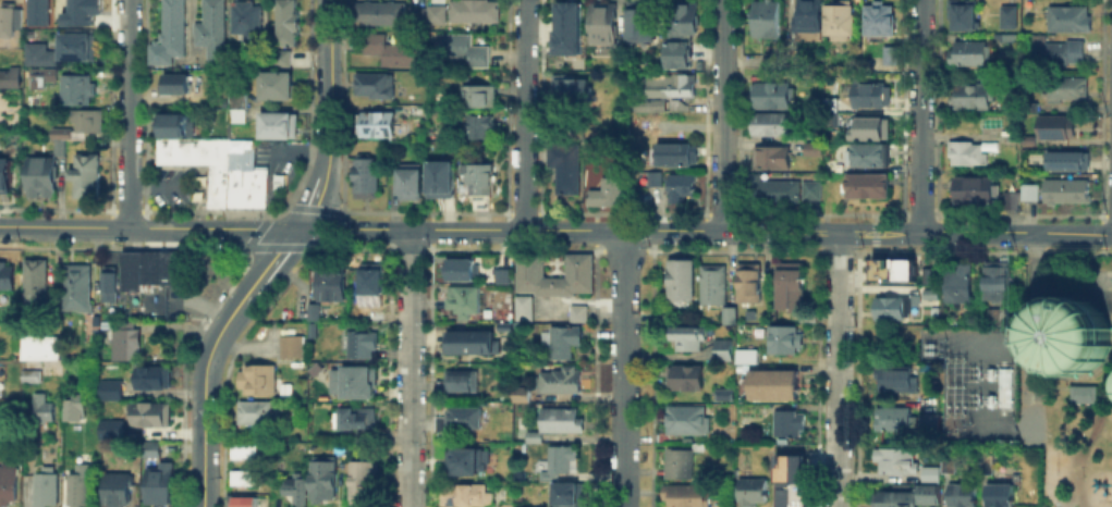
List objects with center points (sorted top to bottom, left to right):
road: (326, 5)
road: (332, 5)
building: (284, 10)
building: (473, 10)
building: (30, 11)
building: (80, 12)
building: (378, 12)
building: (433, 13)
building: (414, 14)
building: (810, 15)
building: (964, 16)
building: (8, 17)
building: (766, 18)
building: (1010, 18)
building: (839, 20)
building: (1070, 20)
building: (248, 22)
building: (643, 22)
building: (880, 22)
building: (606, 25)
building: (570, 30)
building: (213, 32)
building: (283, 32)
building: (683, 34)
building: (171, 35)
building: (1012, 39)
building: (73, 44)
building: (390, 50)
building: (462, 50)
building: (37, 53)
building: (889, 53)
building: (1058, 53)
building: (280, 55)
building: (972, 55)
building: (8, 77)
building: (41, 77)
building: (672, 83)
building: (273, 84)
building: (178, 85)
building: (376, 86)
building: (1070, 90)
building: (78, 91)
road: (329, 94)
building: (573, 94)
building: (479, 97)
building: (770, 97)
building: (872, 97)
building: (974, 99)
building: (830, 107)
building: (650, 108)
building: (1032, 108)
road: (127, 113)
building: (234, 113)
road: (524, 114)
road: (723, 115)
road: (920, 116)
building: (89, 122)
building: (171, 123)
building: (276, 123)
building: (375, 126)
building: (480, 126)
building: (773, 126)
building: (872, 128)
building: (1054, 128)
building: (59, 132)
building: (577, 133)
building: (1009, 138)
building: (1031, 141)
building: (57, 146)
building: (810, 147)
building: (162, 149)
building: (196, 149)
building: (180, 150)
building: (215, 152)
road: (294, 153)
building: (676, 156)
building: (870, 156)
building: (969, 156)
building: (772, 159)
building: (1067, 163)
building: (567, 168)
building: (4, 170)
building: (232, 171)
building: (39, 175)
building: (87, 175)
building: (249, 177)
building: (439, 177)
building: (481, 177)
building: (367, 178)
road: (155, 183)
building: (412, 184)
building: (215, 186)
building: (808, 188)
building: (870, 188)
building: (683, 189)
building: (768, 189)
building: (977, 191)
building: (1031, 193)
building: (1067, 193)
building: (610, 195)
building: (1013, 201)
road: (311, 203)
traffic signals: (295, 227)
road: (310, 227)
road: (672, 230)
road: (780, 232)
road: (975, 233)
road: (268, 263)
building: (158, 268)
building: (581, 268)
building: (130, 269)
building: (892, 269)
building: (462, 271)
building: (927, 274)
building: (5, 275)
building: (505, 277)
building: (38, 282)
building: (107, 282)
building: (328, 282)
building: (683, 282)
building: (998, 282)
building: (960, 283)
building: (750, 284)
building: (714, 285)
building: (791, 286)
building: (78, 288)
building: (374, 293)
building: (928, 293)
road: (142, 300)
building: (464, 302)
road: (196, 304)
building: (887, 308)
building: (526, 309)
building: (313, 311)
building: (578, 314)
building: (731, 317)
building: (663, 320)
building: (999, 320)
road: (1035, 332)
building: (1076, 336)
building: (562, 337)
building: (689, 341)
building: (785, 341)
building: (472, 343)
water tower: (1072, 344)
building: (126, 345)
building: (289, 345)
building: (363, 346)
building: (41, 348)
building: (724, 351)
building: (562, 354)
building: (748, 359)
building: (10, 363)
road: (410, 368)
road: (623, 368)
road: (838, 370)
building: (32, 378)
building: (154, 379)
building: (686, 379)
building: (900, 379)
building: (351, 380)
building: (258, 381)
power substation: (973, 382)
building: (463, 383)
building: (561, 383)
park: (1068, 383)
building: (774, 387)
building: (1006, 389)
building: (112, 391)
building: (524, 396)
building: (725, 396)
building: (1085, 396)
road: (203, 398)
building: (72, 406)
building: (42, 408)
building: (258, 413)
building: (151, 416)
building: (359, 418)
building: (531, 418)
building: (464, 419)
building: (893, 421)
building: (563, 422)
building: (688, 422)
building: (932, 423)
building: (786, 425)
building: (113, 429)
building: (535, 437)
building: (154, 452)
building: (246, 454)
building: (560, 461)
building: (895, 461)
building: (467, 462)
building: (681, 465)
building: (789, 467)
building: (950, 467)
building: (931, 475)
building: (245, 478)
building: (323, 479)
building: (365, 481)
building: (7, 484)
building: (161, 485)
building: (48, 489)
building: (81, 489)
building: (119, 490)
building: (296, 491)
building: (753, 493)
building: (792, 494)
building: (571, 496)
building: (691, 496)
building: (964, 496)
building: (469, 497)
building: (909, 497)
building: (1002, 497)
building: (246, 502)

